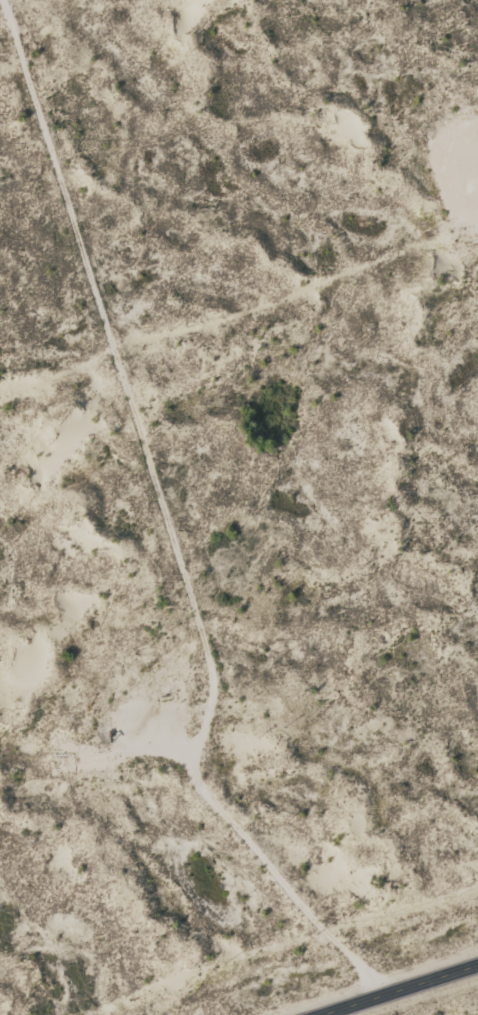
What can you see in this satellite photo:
road: (396, 988)

